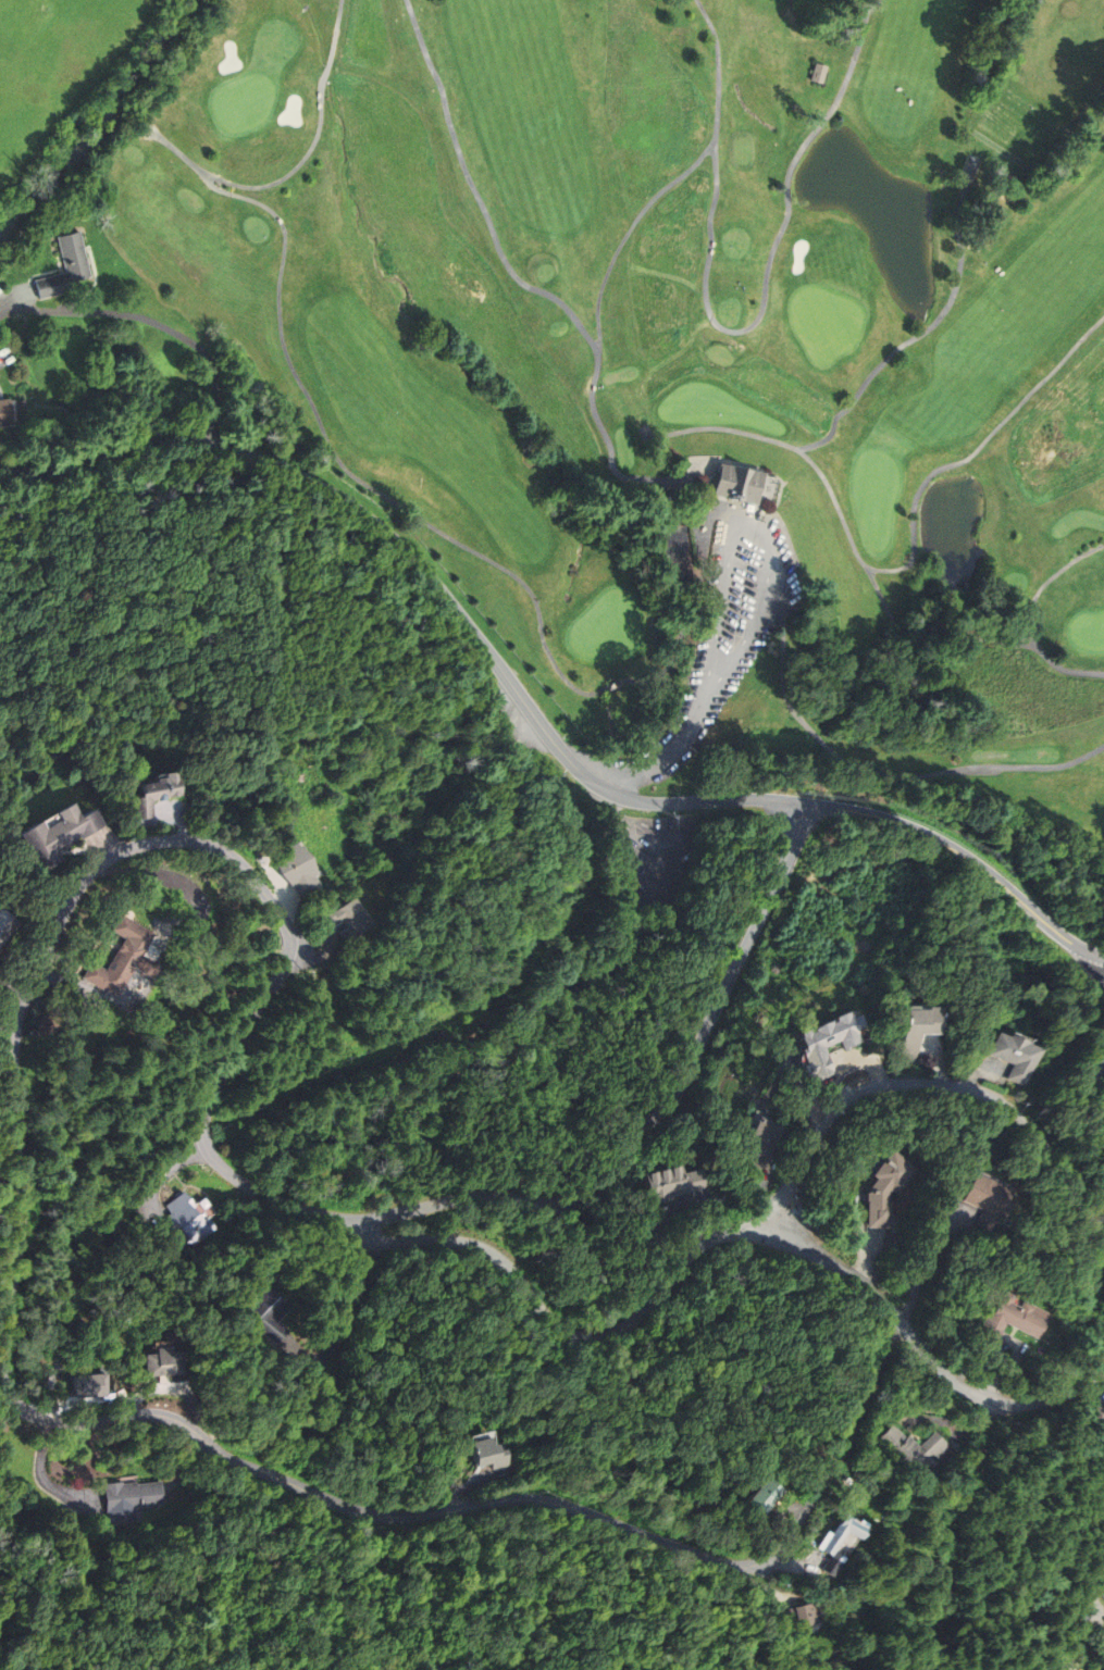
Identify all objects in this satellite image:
building: (818, 73)
road: (297, 165)
road: (498, 244)
road: (628, 248)
building: (66, 267)
road: (154, 322)
road: (745, 332)
road: (925, 332)
park: (694, 370)
building: (7, 413)
building: (736, 484)
road: (404, 506)
road: (755, 527)
road: (855, 543)
building: (678, 562)
road: (1033, 619)
road: (535, 714)
road: (663, 757)
road: (885, 775)
building: (153, 796)
building: (58, 835)
building: (301, 871)
road: (69, 907)
building: (344, 921)
building: (5, 925)
building: (125, 959)
road: (1091, 960)
building: (917, 1027)
road: (7, 1031)
building: (831, 1042)
building: (1012, 1057)
building: (766, 1143)
building: (674, 1183)
building: (884, 1188)
building: (984, 1201)
road: (1090, 1222)
building: (266, 1317)
building: (1017, 1319)
road: (598, 1339)
building: (161, 1362)
road: (856, 1410)
building: (909, 1450)
building: (487, 1453)
building: (129, 1496)
building: (764, 1497)
building: (835, 1538)
building: (823, 1568)
road: (1096, 1593)
building: (798, 1617)

